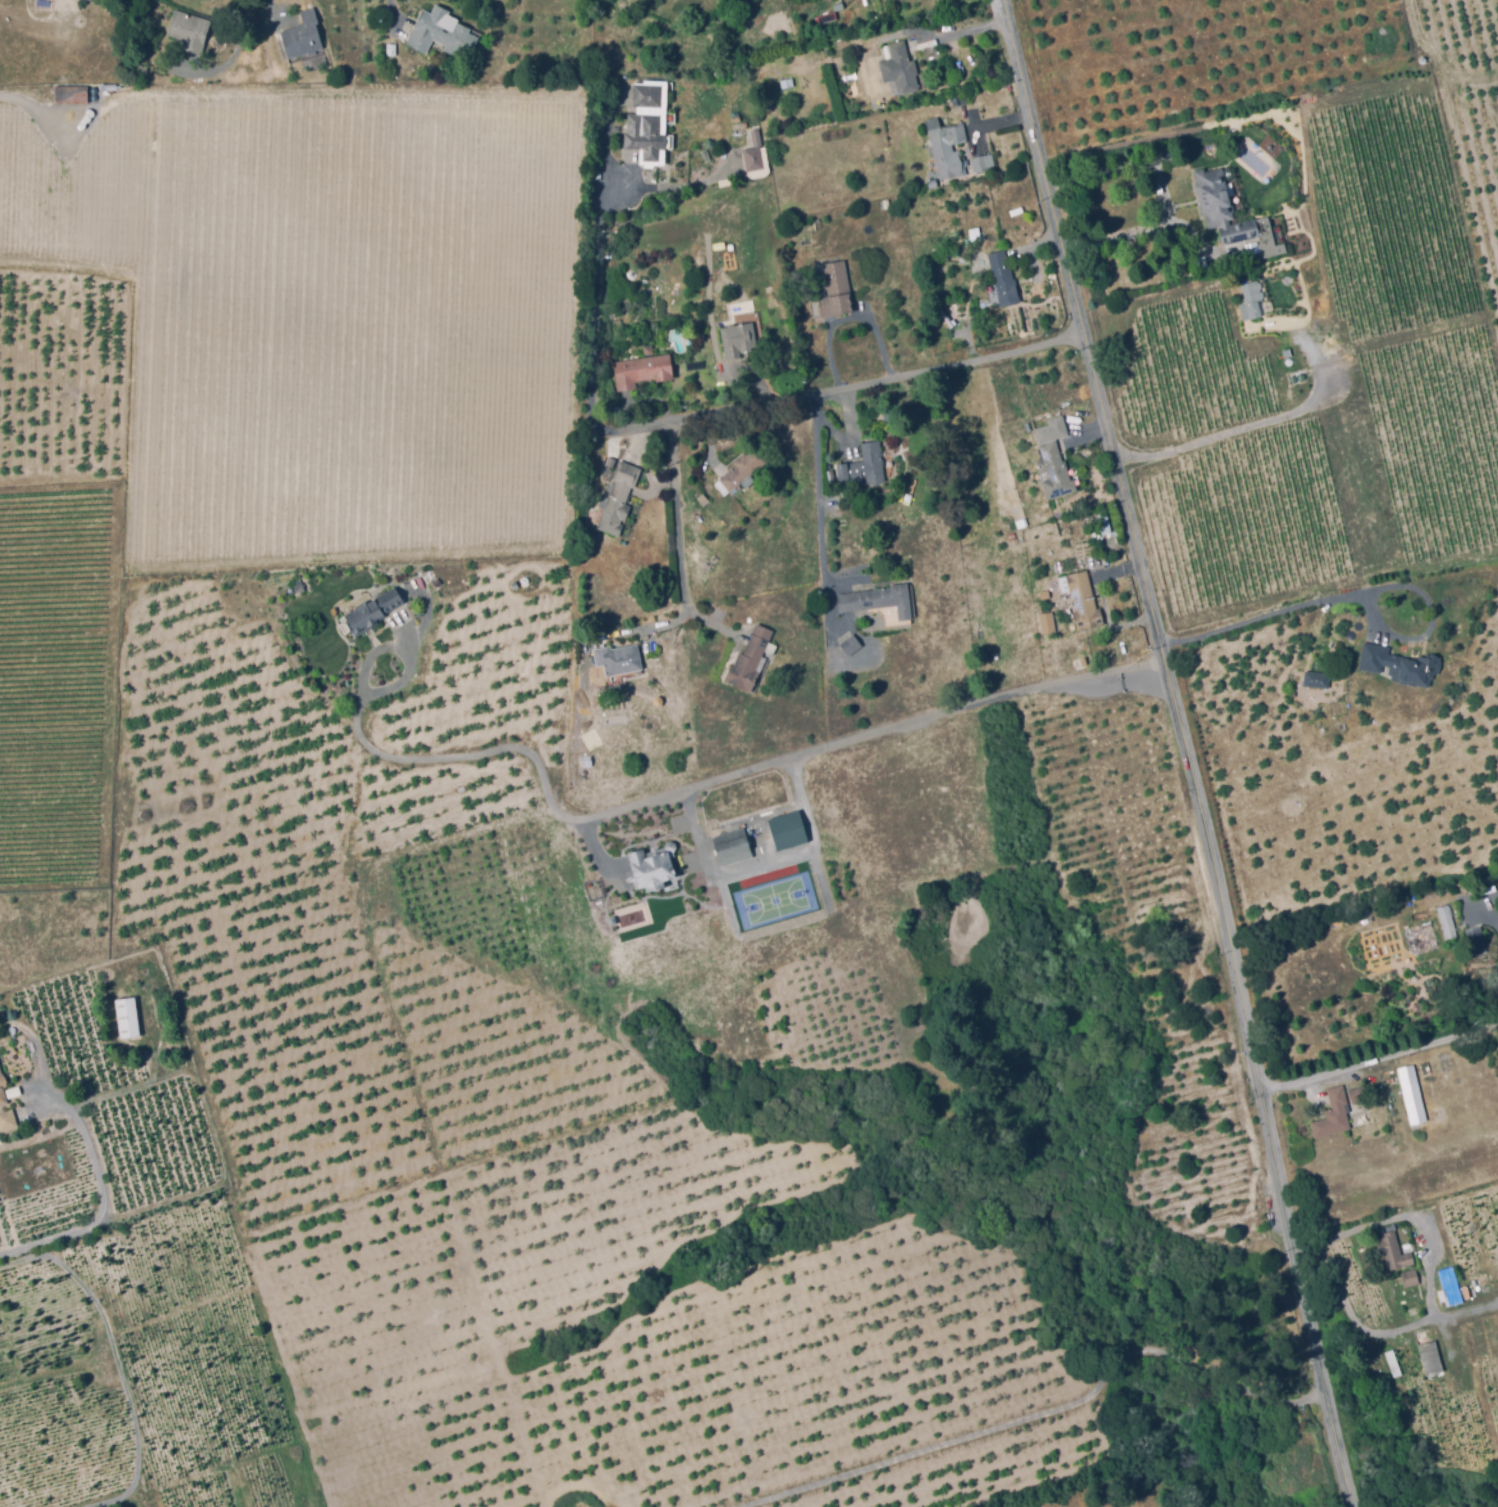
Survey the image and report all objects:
building: (798, 9)
road: (392, 13)
building: (190, 31)
road: (962, 34)
building: (443, 35)
building: (303, 36)
building: (140, 57)
building: (901, 68)
building: (787, 82)
building: (43, 87)
building: (72, 94)
building: (649, 123)
building: (947, 147)
building: (706, 153)
building: (757, 157)
building: (984, 161)
building: (727, 182)
building: (933, 182)
building: (597, 189)
building: (1232, 214)
road: (1121, 237)
building: (974, 239)
building: (1004, 278)
building: (836, 289)
building: (1253, 300)
road: (844, 319)
building: (739, 339)
building: (632, 346)
building: (681, 360)
building: (642, 370)
road: (742, 409)
road: (1256, 423)
road: (831, 431)
building: (609, 454)
building: (1054, 459)
building: (866, 464)
building: (743, 470)
building: (619, 496)
building: (704, 499)
road: (819, 502)
building: (1102, 523)
road: (680, 541)
building: (1092, 560)
building: (1060, 566)
road: (1450, 576)
building: (299, 587)
road: (1350, 596)
building: (879, 599)
building: (1081, 599)
building: (373, 611)
building: (1066, 621)
building: (1048, 622)
road: (670, 628)
building: (851, 644)
building: (752, 657)
building: (618, 659)
building: (1400, 664)
building: (1321, 679)
road: (1451, 717)
road: (1179, 754)
building: (587, 761)
road: (678, 791)
building: (786, 830)
building: (732, 846)
road: (594, 855)
building: (653, 867)
building: (1447, 921)
building: (1480, 953)
building: (128, 1017)
road: (1380, 1056)
building: (1446, 1061)
building: (2, 1088)
building: (1359, 1092)
building: (1413, 1093)
building: (1334, 1114)
building: (1366, 1117)
building: (8, 1120)
building: (1363, 1137)
building: (1396, 1144)
building: (1401, 1161)
building: (1447, 1169)
building: (1479, 1171)
road: (101, 1194)
road: (1389, 1217)
building: (1394, 1248)
building: (1411, 1276)
building: (1449, 1287)
building: (1489, 1334)
building: (1429, 1352)
road: (119, 1361)
building: (1394, 1362)
road: (1046, 1415)

